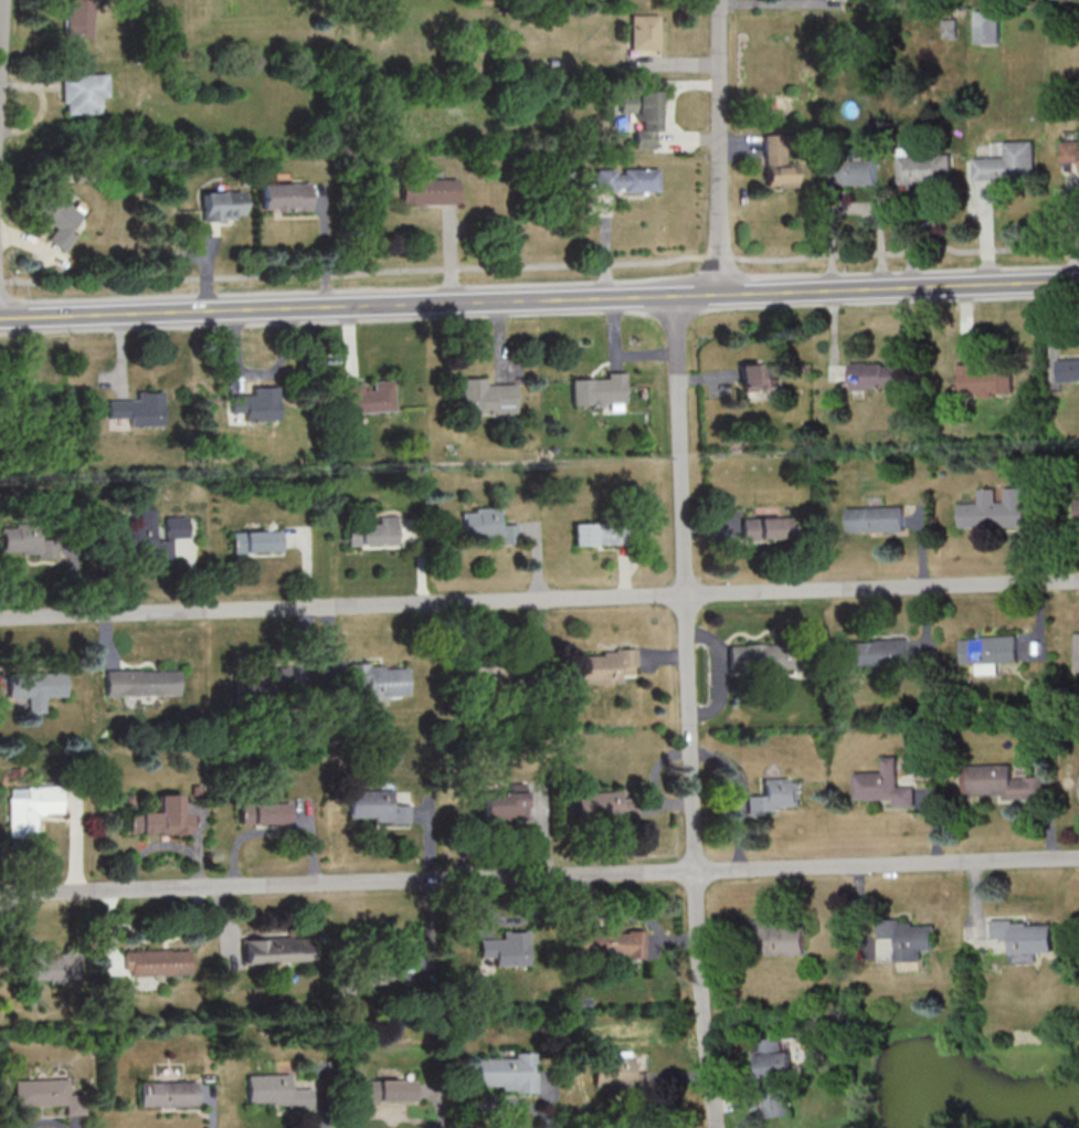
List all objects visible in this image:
building: (78, 19)
building: (988, 29)
building: (643, 33)
road: (1, 43)
building: (82, 94)
road: (668, 115)
building: (639, 117)
road: (720, 146)
building: (1071, 157)
building: (774, 165)
building: (1009, 166)
building: (925, 171)
building: (853, 172)
building: (624, 180)
building: (426, 192)
building: (282, 198)
building: (220, 207)
building: (55, 218)
road: (540, 267)
road: (539, 298)
building: (1069, 371)
building: (877, 377)
building: (758, 379)
building: (987, 382)
building: (597, 391)
building: (367, 399)
building: (484, 399)
building: (254, 407)
building: (138, 412)
building: (996, 510)
building: (1077, 510)
building: (877, 519)
building: (483, 527)
building: (763, 529)
building: (371, 533)
building: (599, 534)
building: (149, 536)
building: (24, 538)
building: (254, 542)
road: (539, 599)
building: (988, 651)
building: (1076, 652)
building: (876, 653)
building: (763, 656)
building: (604, 666)
building: (379, 678)
building: (141, 683)
building: (283, 683)
building: (34, 687)
road: (689, 710)
building: (1006, 783)
building: (884, 787)
building: (775, 797)
building: (604, 804)
building: (499, 805)
building: (377, 808)
building: (28, 809)
building: (264, 814)
building: (158, 818)
road: (539, 875)
building: (908, 934)
building: (1025, 936)
building: (777, 938)
building: (606, 943)
building: (505, 949)
building: (274, 950)
building: (156, 962)
building: (47, 968)
building: (378, 972)
building: (505, 1073)
building: (615, 1076)
building: (773, 1077)
building: (390, 1090)
building: (273, 1092)
building: (42, 1094)
building: (163, 1095)

